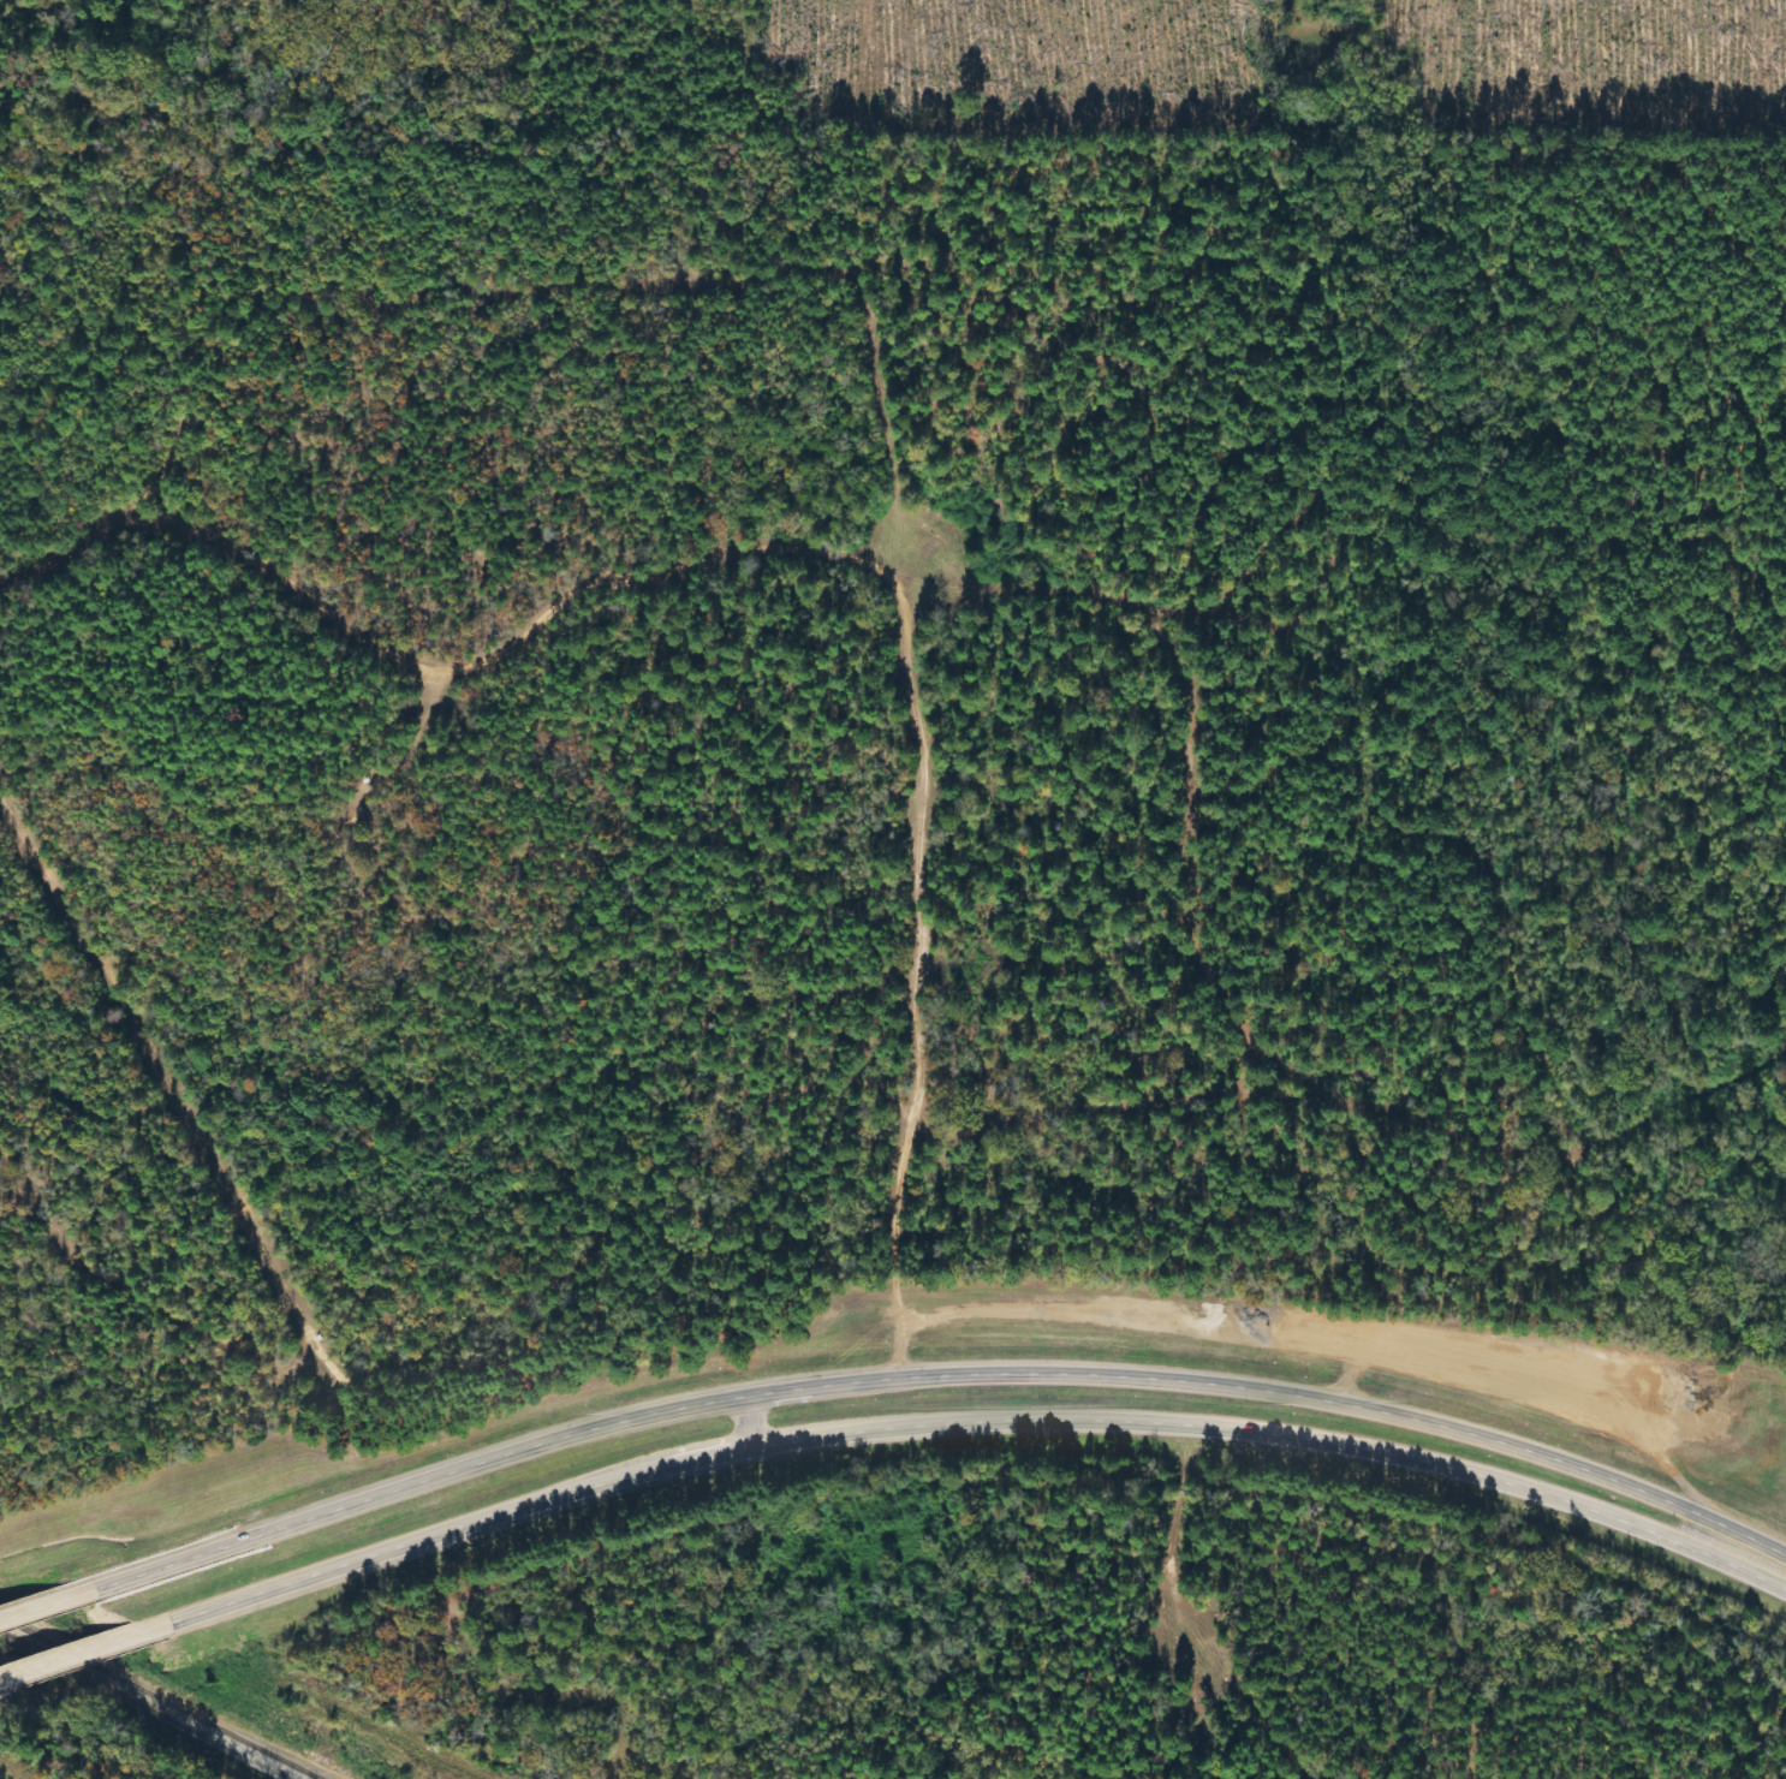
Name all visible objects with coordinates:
road: (935, 1382)
road: (965, 1422)
road: (40, 1601)
road: (75, 1648)
road: (1, 1673)
railway: (169, 1694)

